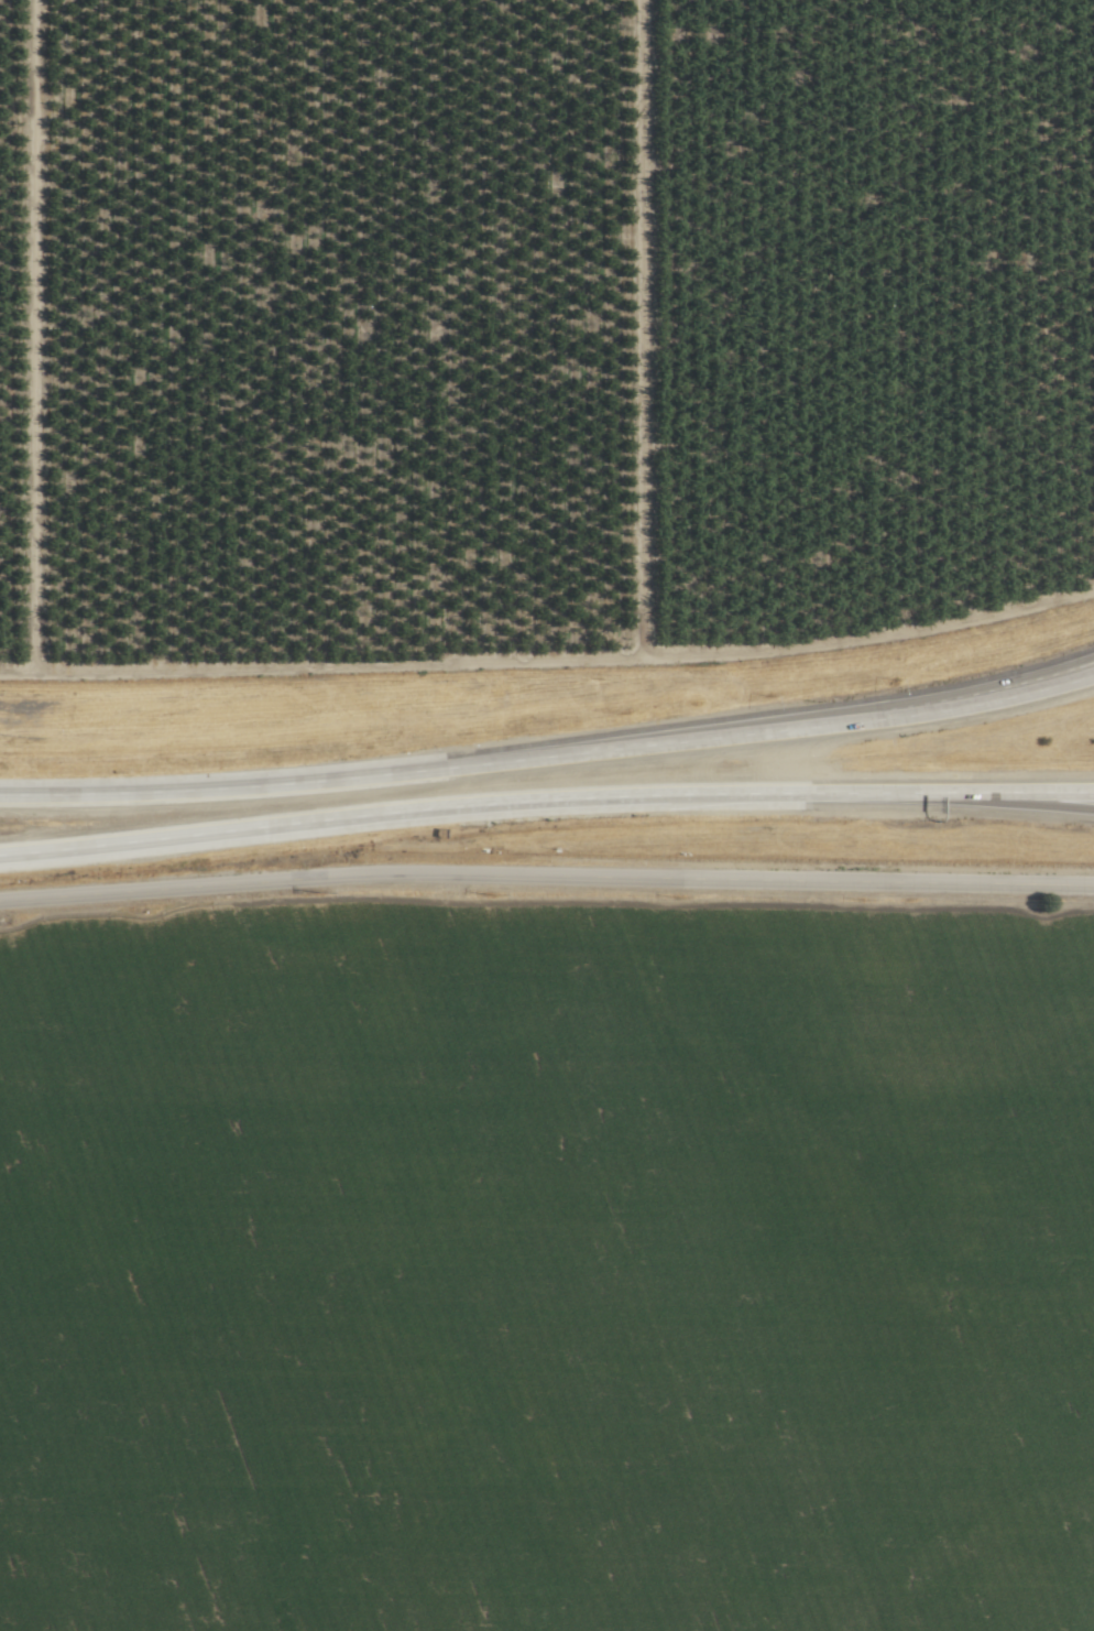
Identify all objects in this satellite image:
road: (1031, 674)
road: (768, 731)
road: (219, 785)
road: (1030, 793)
road: (568, 795)
road: (1029, 806)
road: (86, 841)
road: (546, 888)

